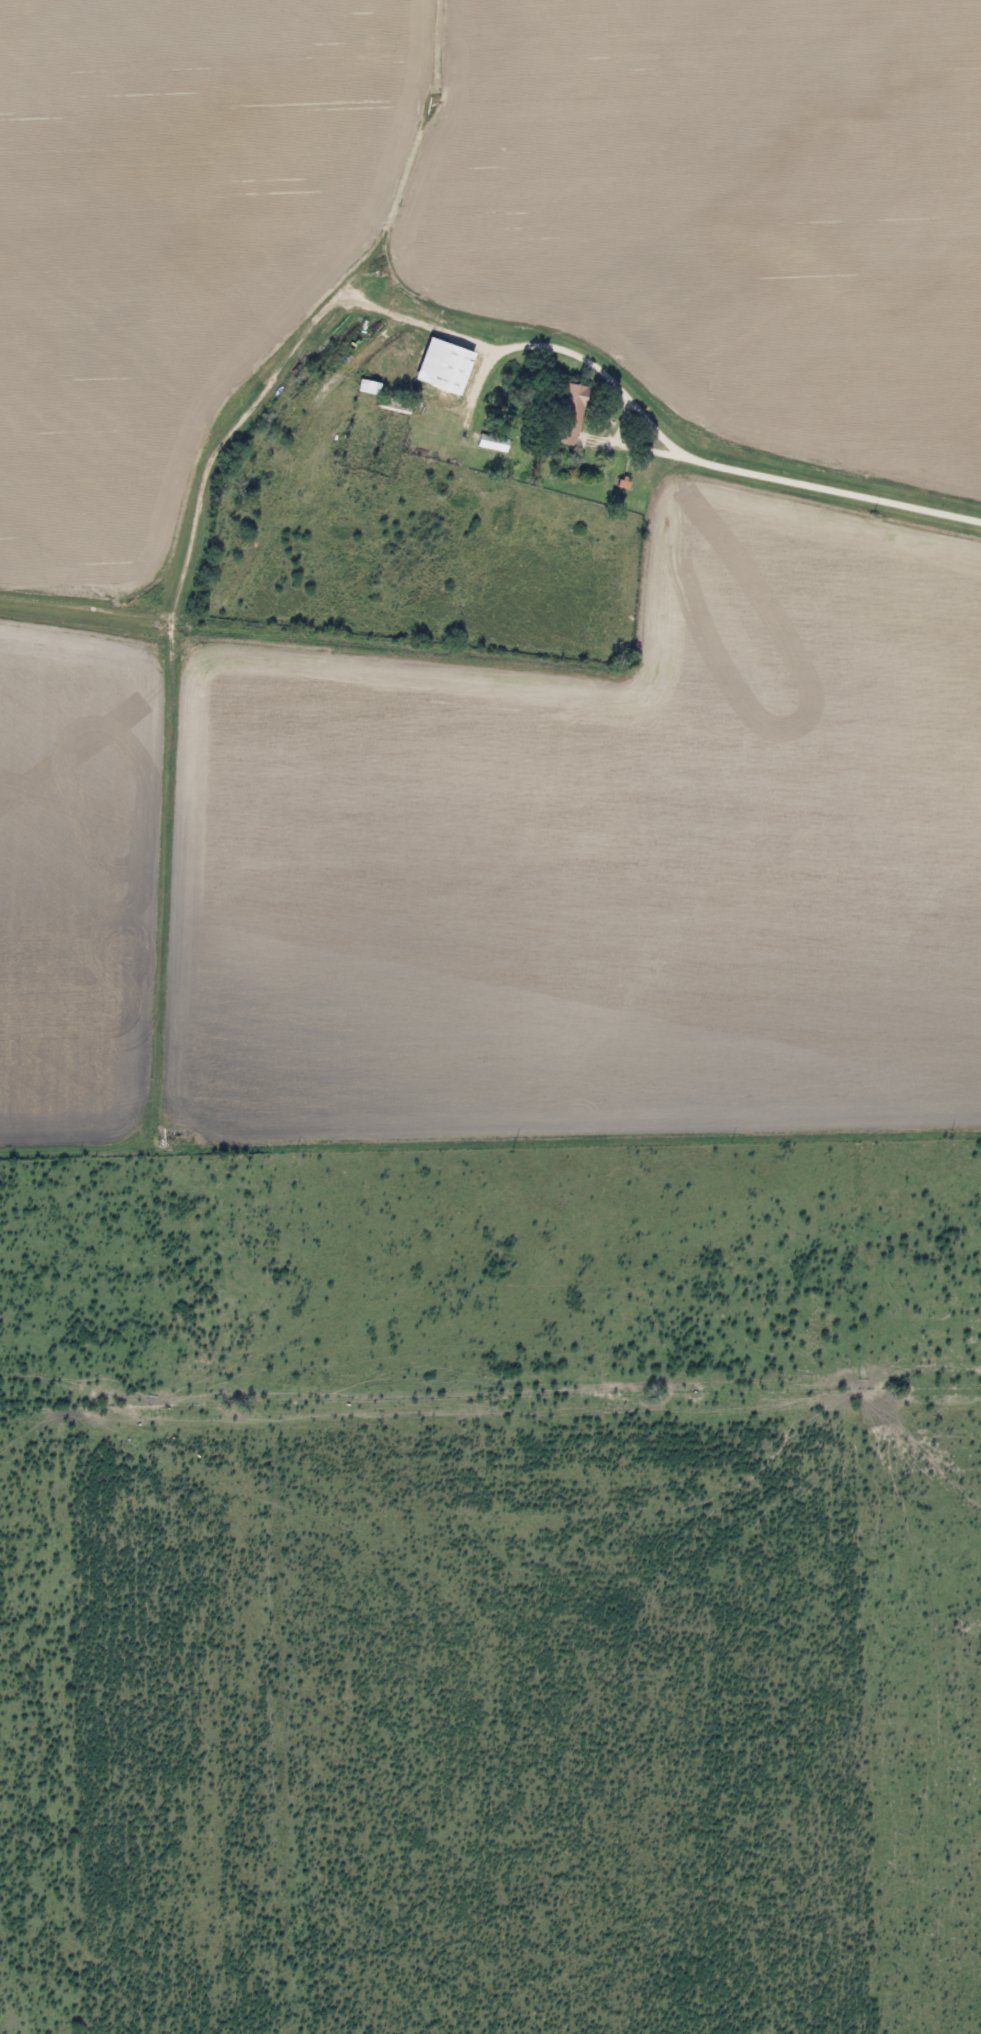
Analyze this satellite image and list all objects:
road: (572, 353)
building: (441, 366)
building: (567, 414)
building: (490, 443)
road: (828, 488)

